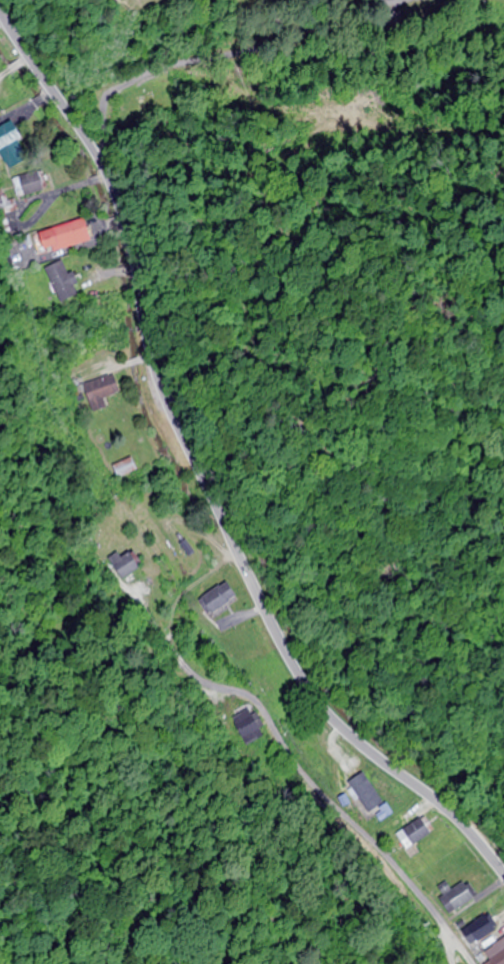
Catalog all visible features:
road: (235, 53)
building: (30, 185)
building: (61, 238)
building: (64, 288)
building: (100, 389)
building: (124, 468)
road: (199, 475)
building: (216, 600)
building: (359, 797)
road: (345, 815)
building: (412, 833)
building: (454, 899)
building: (478, 934)
building: (496, 957)

